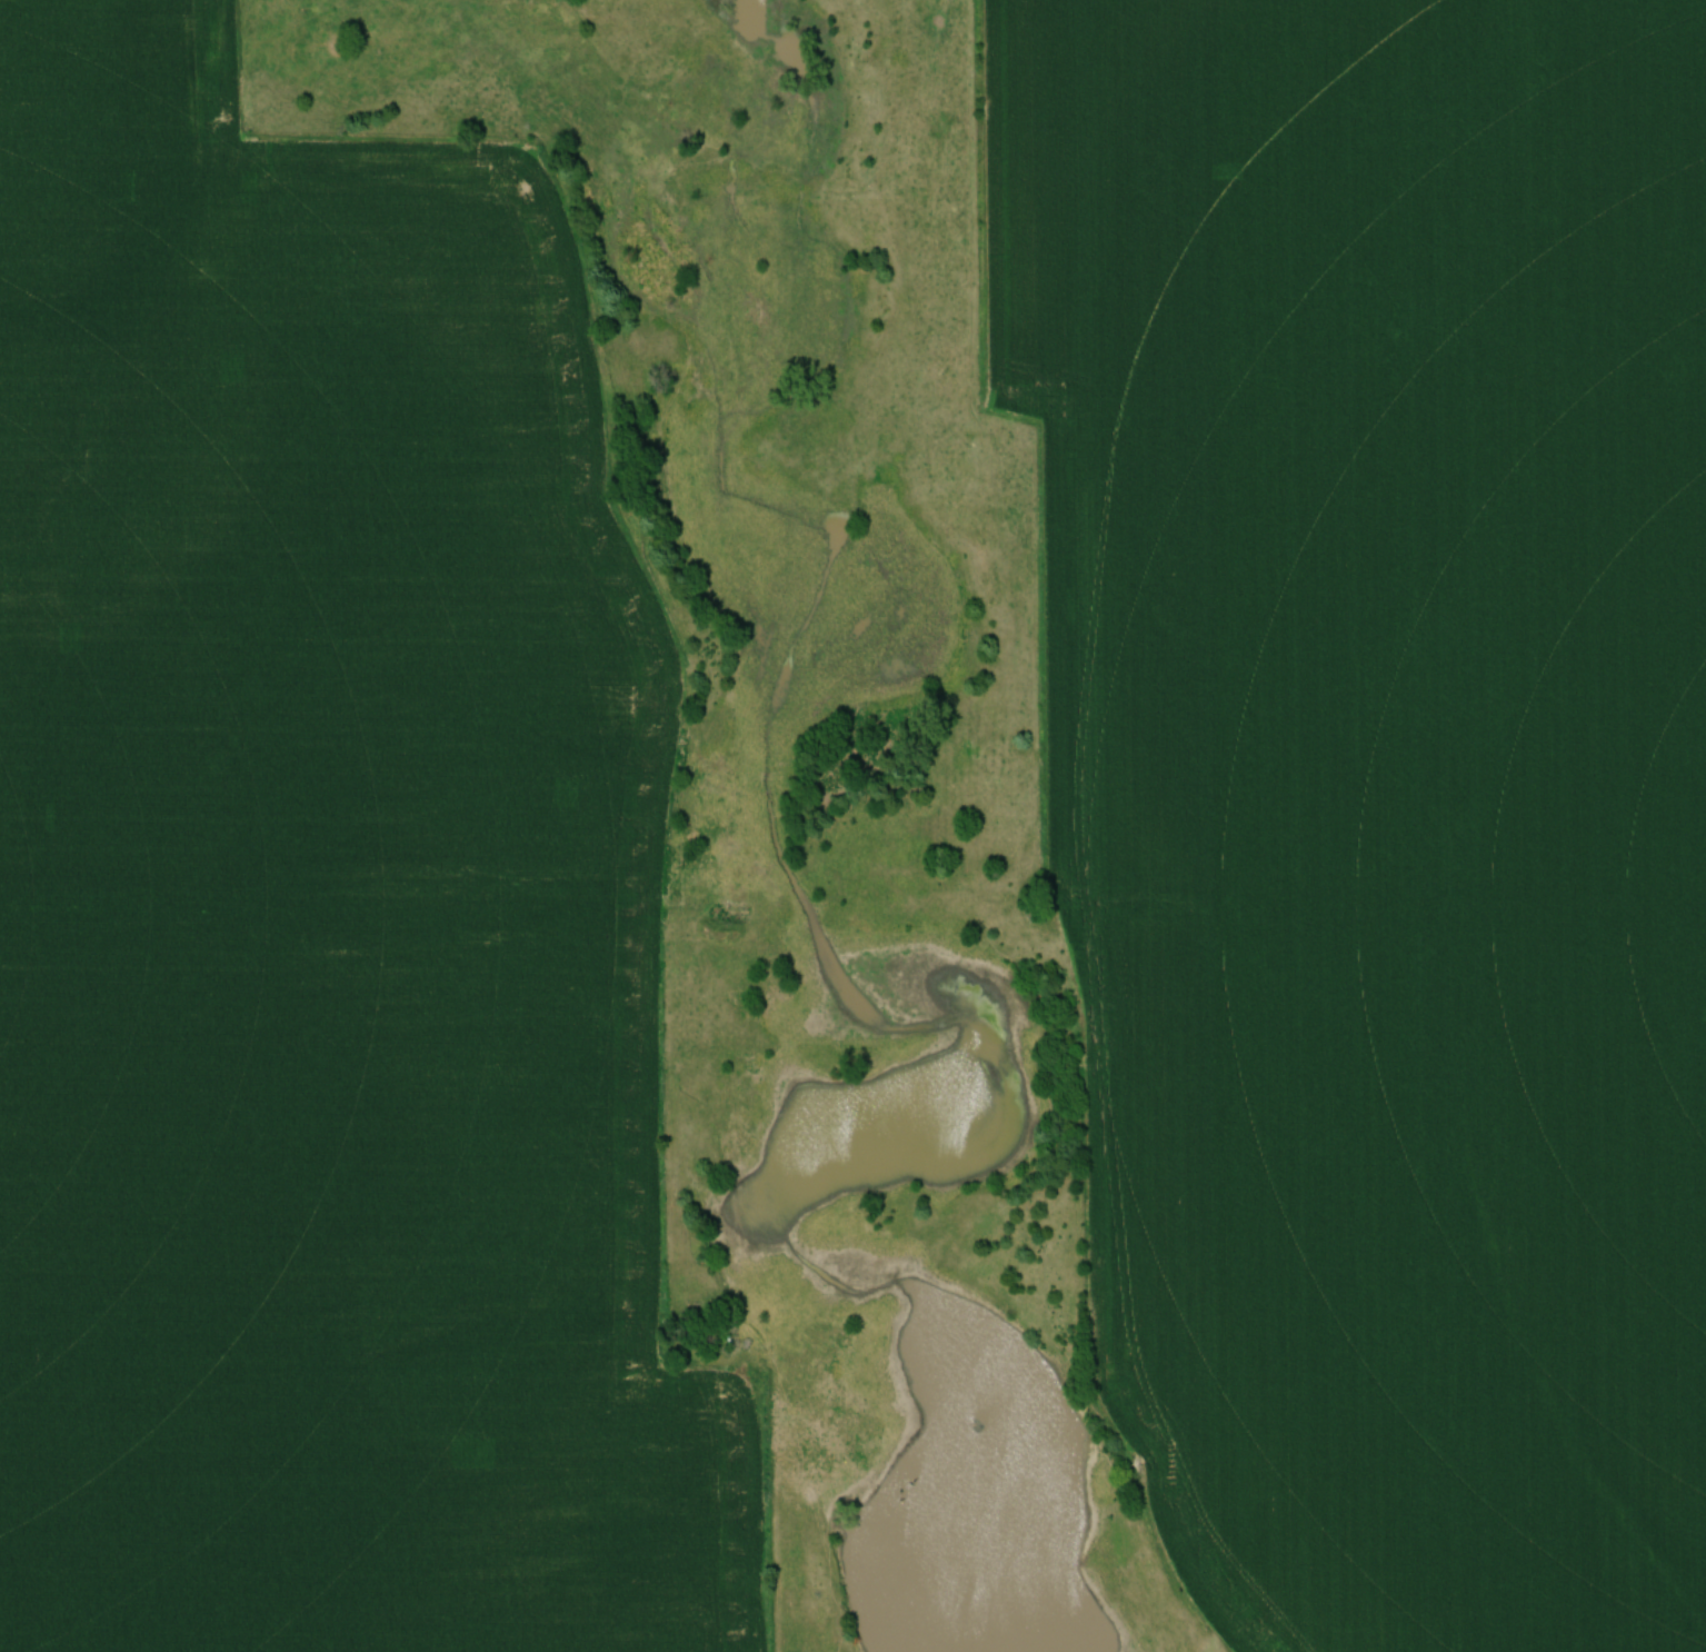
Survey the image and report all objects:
dam: (1118, 1650)

